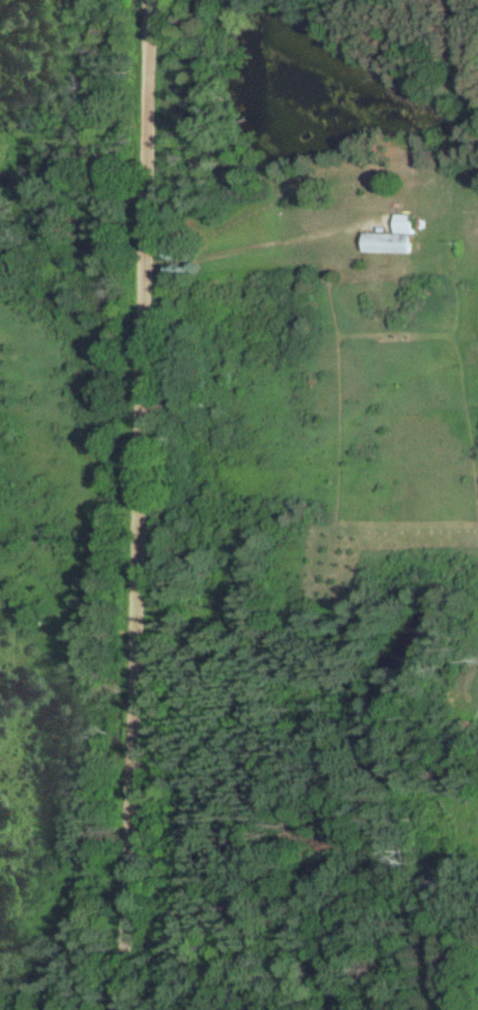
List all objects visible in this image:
building: (393, 238)
road: (137, 504)

